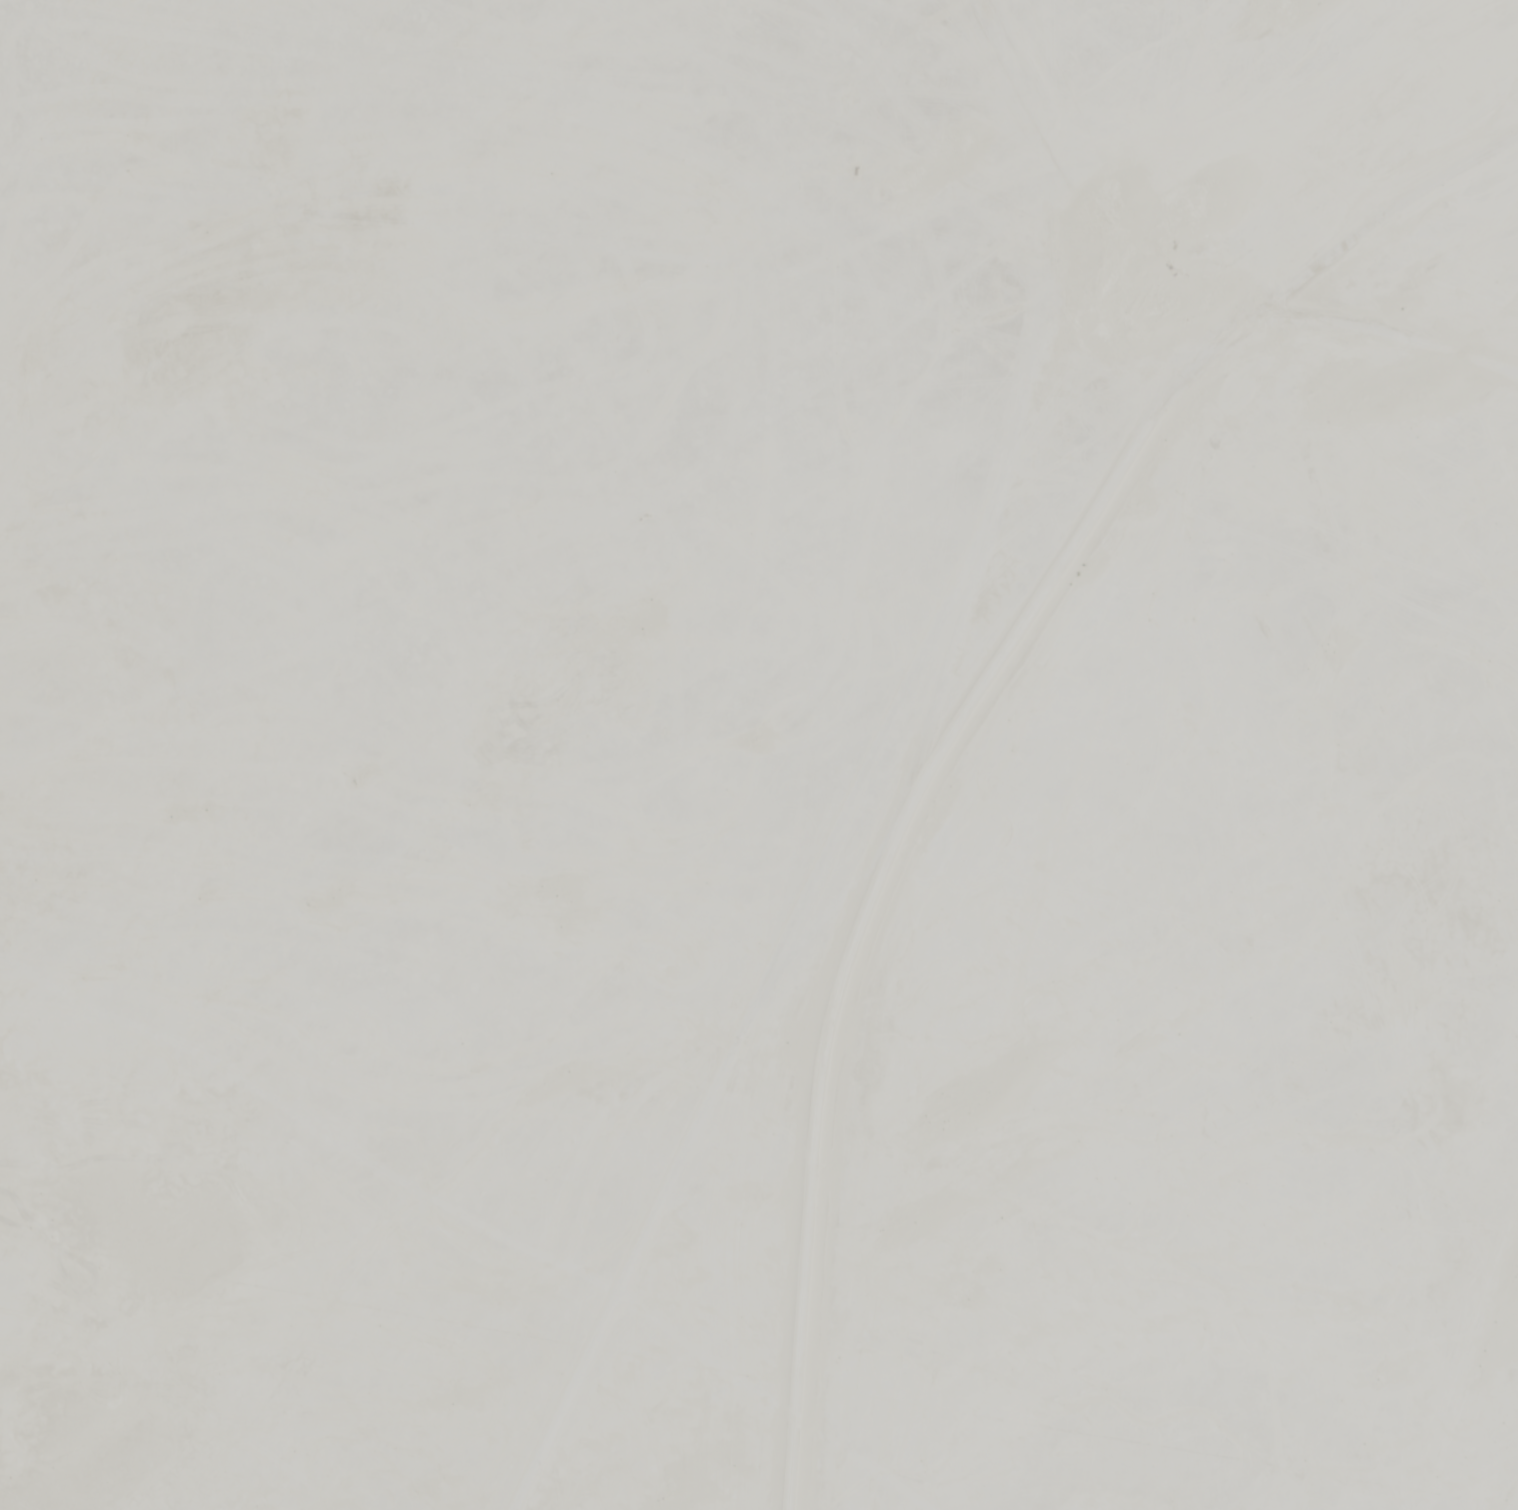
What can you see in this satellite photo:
road: (1311, 252)
road: (969, 725)
building: (528, 982)
building: (59, 1319)

